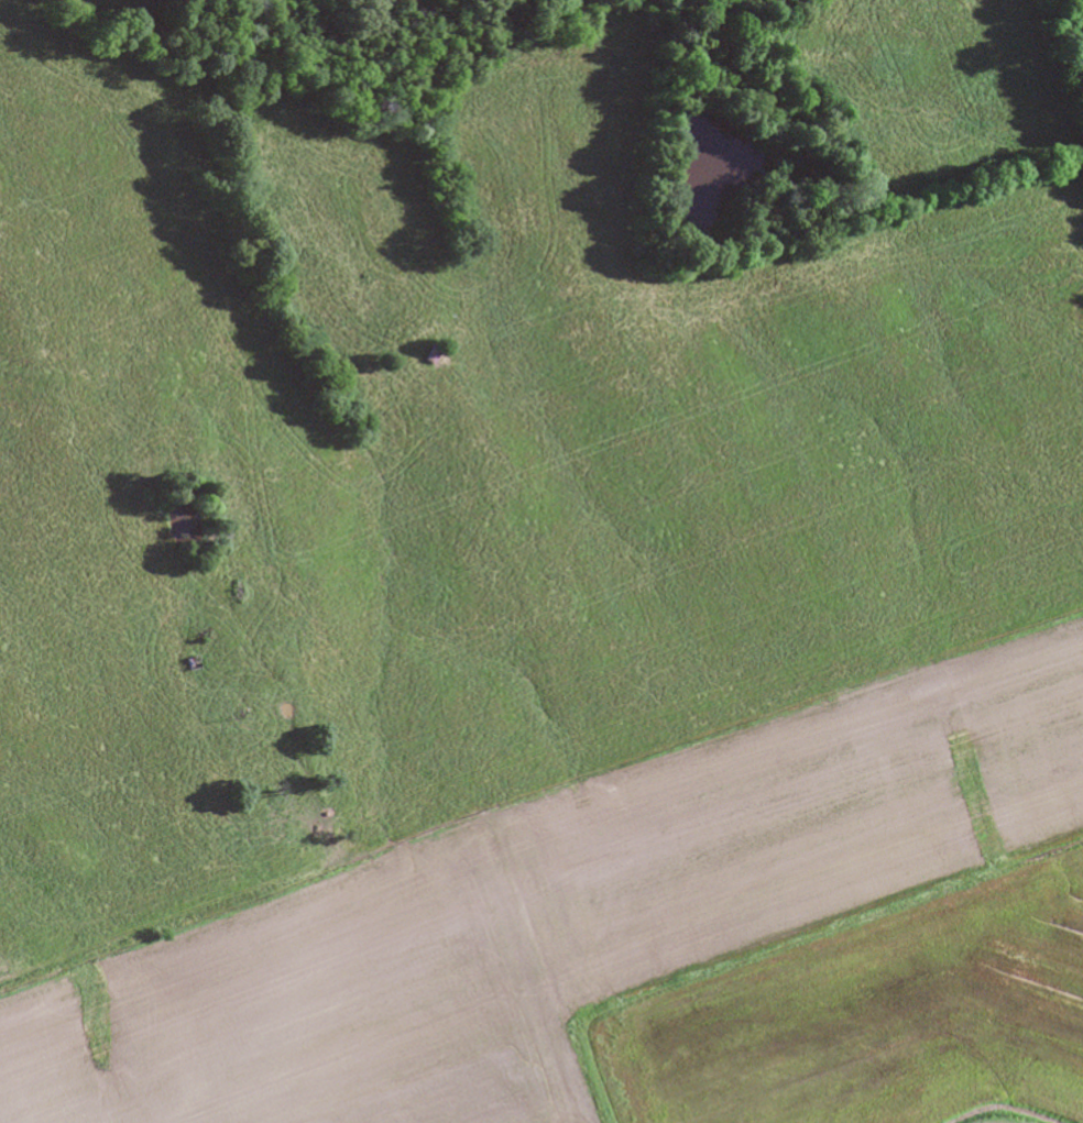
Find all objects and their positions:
building: (188, 665)
road: (128, 928)

